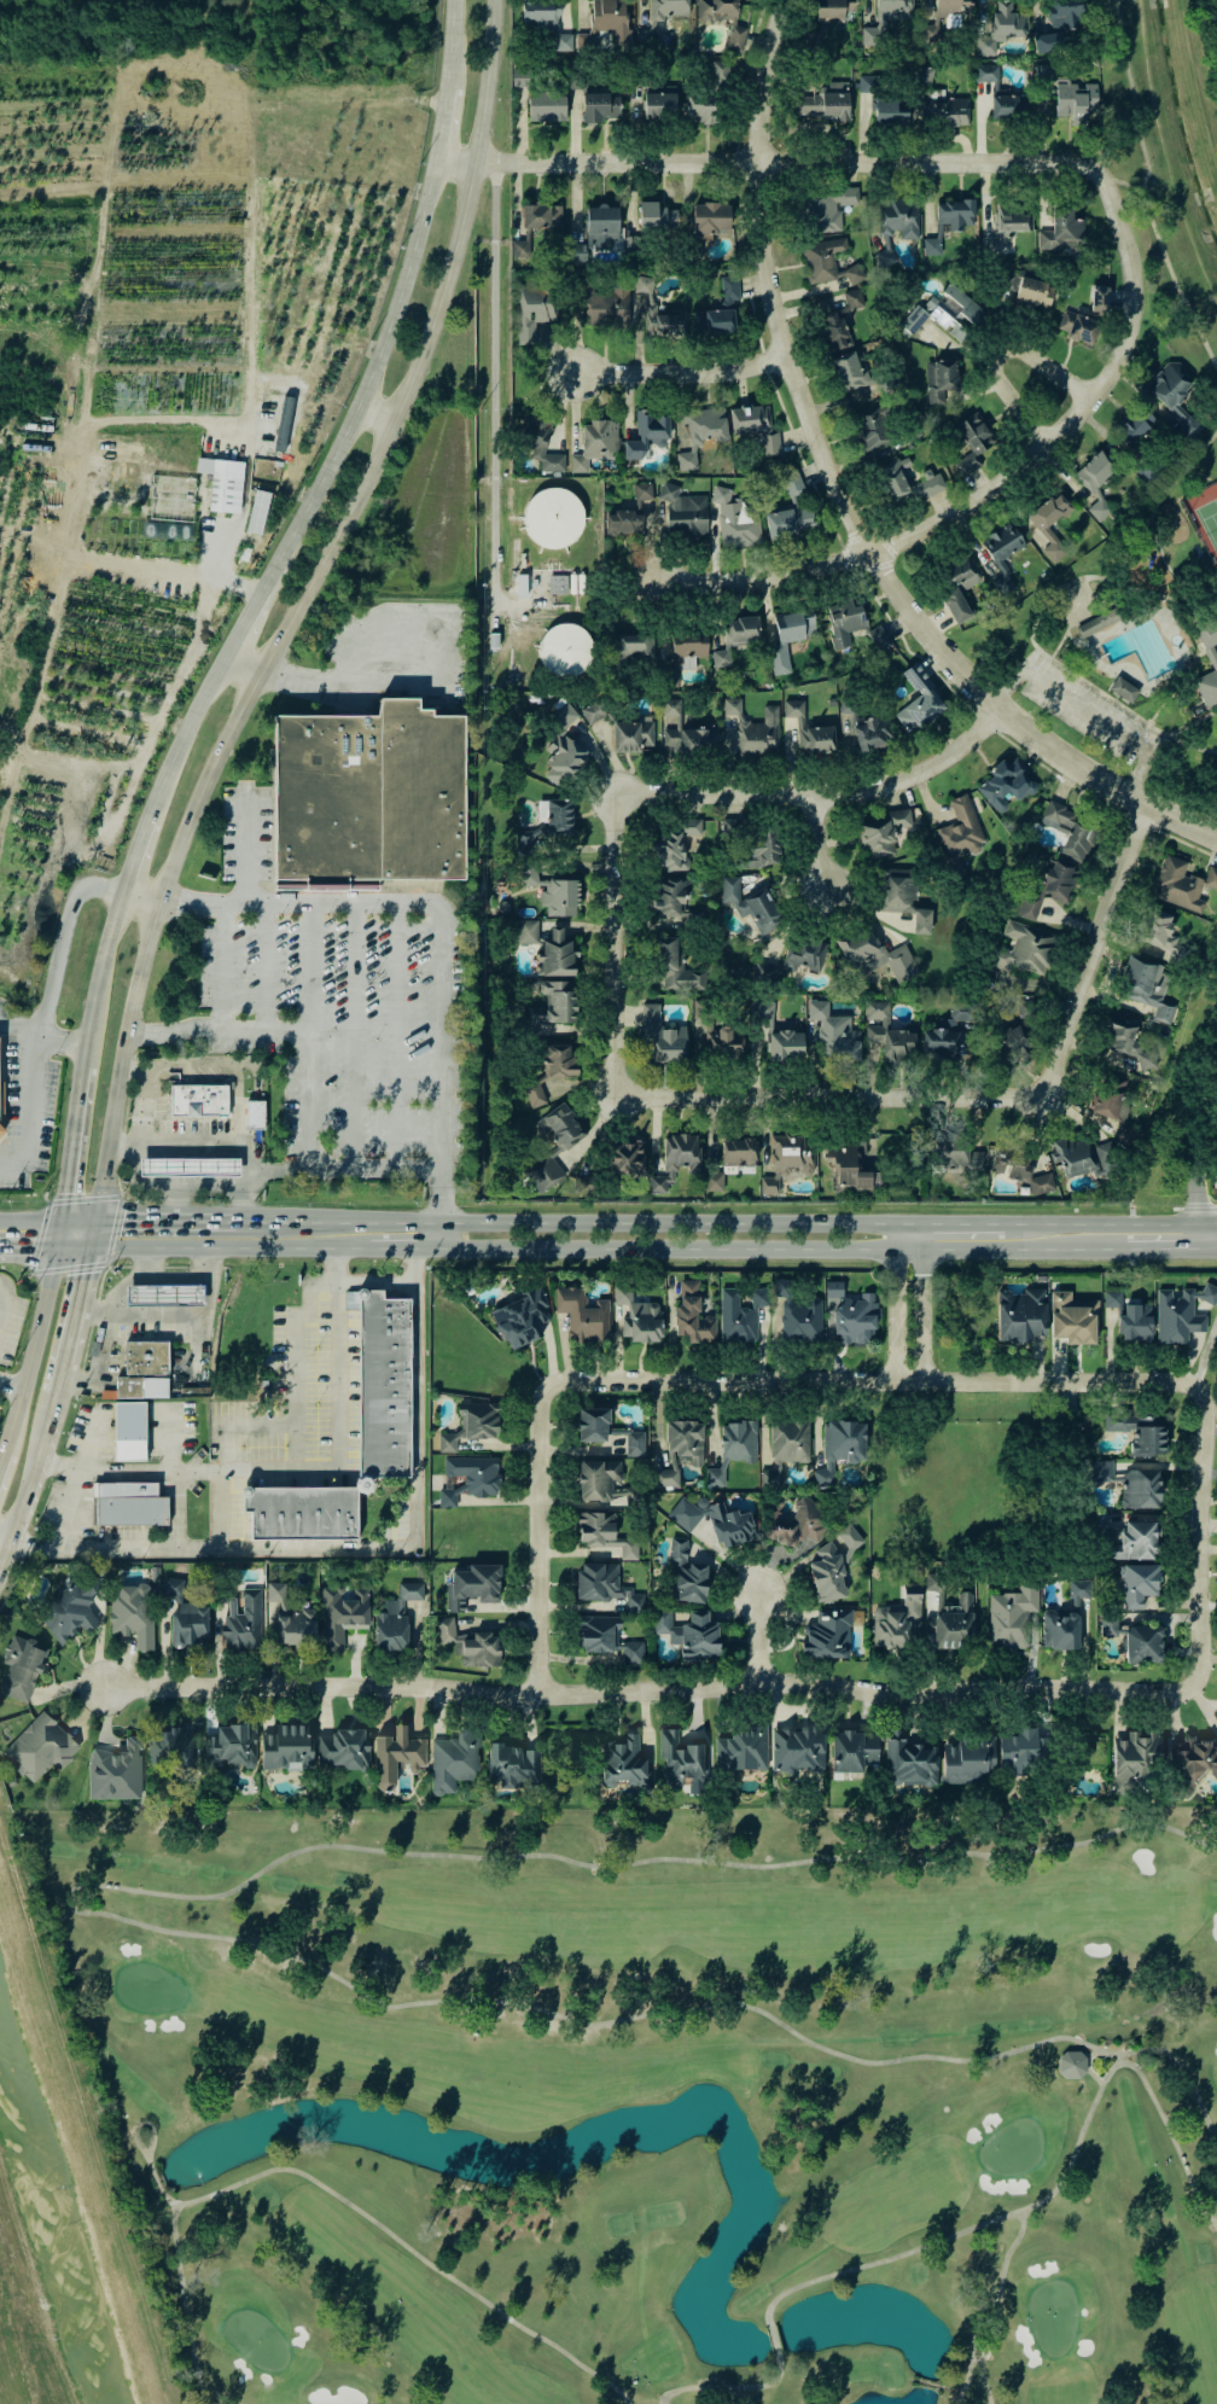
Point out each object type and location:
building: (716, 10)
building: (829, 11)
building: (1066, 12)
building: (660, 18)
building: (884, 18)
building: (936, 19)
building: (545, 22)
building: (605, 23)
building: (1001, 27)
building: (736, 37)
road: (1207, 40)
building: (1047, 42)
road: (447, 45)
building: (720, 72)
building: (985, 72)
building: (867, 83)
building: (1075, 100)
building: (825, 101)
building: (599, 105)
building: (658, 105)
building: (1008, 105)
building: (545, 106)
building: (700, 107)
building: (943, 107)
building: (890, 110)
road: (436, 124)
park: (1165, 159)
road: (448, 161)
road: (775, 161)
road: (1118, 181)
road: (1140, 194)
building: (829, 206)
building: (540, 215)
building: (656, 216)
building: (899, 216)
building: (710, 217)
building: (1008, 219)
building: (948, 222)
building: (600, 225)
building: (1061, 231)
building: (520, 245)
building: (885, 257)
building: (827, 261)
building: (642, 284)
building: (1030, 292)
building: (1099, 297)
building: (606, 305)
building: (531, 309)
building: (720, 309)
building: (953, 309)
building: (913, 319)
building: (665, 324)
building: (1077, 326)
road: (996, 359)
road: (677, 371)
building: (848, 371)
road: (363, 378)
building: (938, 379)
road: (491, 391)
building: (1175, 396)
building: (284, 425)
building: (755, 425)
building: (1134, 426)
building: (873, 427)
building: (700, 432)
building: (646, 433)
building: (971, 441)
building: (594, 443)
building: (543, 453)
road: (1181, 471)
road: (1198, 472)
road: (1003, 479)
building: (221, 481)
building: (908, 482)
building: (1095, 482)
building: (641, 490)
road: (848, 494)
road: (240, 503)
building: (790, 510)
building: (257, 511)
building: (683, 511)
building: (552, 517)
building: (735, 518)
park: (1204, 518)
building: (623, 522)
park: (1207, 523)
building: (1041, 526)
road: (1122, 543)
building: (1002, 554)
road: (1169, 569)
road: (1140, 571)
building: (557, 583)
building: (956, 584)
road: (1107, 594)
park: (1075, 601)
road: (290, 609)
road: (1035, 611)
road: (243, 615)
road: (1129, 618)
building: (844, 619)
building: (1099, 621)
building: (741, 629)
road: (1169, 630)
building: (788, 635)
building: (878, 636)
road: (1056, 641)
park: (1126, 641)
building: (634, 645)
building: (564, 648)
building: (721, 657)
building: (1213, 657)
road: (240, 659)
road: (1030, 663)
road: (1135, 675)
road: (354, 683)
building: (1123, 689)
road: (1114, 694)
road: (1164, 697)
building: (918, 700)
parking lot: (1081, 709)
building: (593, 711)
building: (563, 715)
road: (1085, 717)
road: (1189, 721)
building: (752, 729)
road: (181, 730)
building: (685, 730)
building: (809, 730)
building: (872, 732)
building: (633, 734)
road: (1180, 744)
building: (563, 759)
building: (1003, 785)
road: (687, 793)
building: (367, 799)
building: (547, 821)
building: (1070, 830)
building: (959, 831)
building: (881, 832)
road: (821, 840)
building: (671, 844)
road: (241, 849)
road: (133, 854)
building: (1181, 884)
building: (1046, 887)
building: (553, 892)
building: (903, 896)
building: (669, 897)
road: (138, 898)
building: (750, 903)
road: (437, 930)
road: (221, 931)
building: (526, 931)
building: (1163, 936)
road: (62, 941)
building: (1025, 948)
building: (555, 953)
building: (805, 954)
building: (874, 955)
road: (264, 965)
building: (675, 968)
road: (310, 970)
road: (95, 977)
building: (1146, 986)
parking lot: (332, 1000)
building: (554, 1002)
road: (12, 1021)
building: (947, 1031)
building: (711, 1032)
building: (887, 1032)
building: (833, 1034)
road: (53, 1036)
building: (662, 1036)
road: (356, 1037)
road: (398, 1037)
building: (1011, 1040)
building: (785, 1044)
building: (557, 1061)
road: (1, 1087)
road: (988, 1094)
building: (534, 1095)
building: (1107, 1098)
building: (197, 1100)
parking lot: (25, 1104)
road: (127, 1107)
road: (299, 1107)
road: (30, 1113)
building: (255, 1113)
road: (140, 1117)
road: (190, 1117)
road: (27, 1120)
building: (558, 1125)
building: (1122, 1131)
road: (69, 1142)
road: (187, 1143)
road: (121, 1148)
building: (738, 1151)
building: (953, 1154)
building: (627, 1157)
building: (1088, 1157)
building: (676, 1159)
building: (786, 1160)
gas station: (194, 1164)
building: (188, 1166)
road: (274, 1168)
building: (1019, 1169)
road: (1211, 1171)
building: (543, 1175)
road: (117, 1181)
building: (712, 1181)
traffic signals: (62, 1193)
road: (249, 1194)
road: (28, 1220)
road: (77, 1220)
traffic signals: (123, 1220)
road: (177, 1220)
road: (576, 1222)
road: (910, 1222)
road: (963, 1222)
road: (1110, 1222)
road: (54, 1232)
road: (97, 1233)
road: (438, 1234)
road: (25, 1245)
traffic signals: (30, 1245)
road: (74, 1245)
road: (233, 1247)
road: (406, 1247)
road: (781, 1247)
road: (1167, 1250)
road: (1215, 1250)
road: (99, 1263)
traffic signals: (88, 1273)
road: (118, 1288)
building: (163, 1294)
gas station: (163, 1294)
building: (1111, 1298)
road: (0, 1299)
road: (897, 1302)
road: (922, 1302)
road: (80, 1304)
road: (190, 1312)
building: (740, 1312)
building: (797, 1312)
building: (1181, 1312)
building: (1020, 1314)
building: (582, 1315)
building: (692, 1315)
building: (849, 1315)
building: (637, 1316)
building: (522, 1317)
building: (1072, 1317)
building: (1135, 1322)
road: (28, 1346)
building: (146, 1357)
road: (100, 1362)
road: (60, 1378)
road: (875, 1381)
building: (382, 1385)
road: (8, 1386)
building: (128, 1386)
parking lot: (1065, 1395)
building: (472, 1425)
building: (592, 1425)
building: (129, 1430)
building: (1139, 1431)
building: (790, 1439)
building: (635, 1444)
building: (733, 1448)
building: (839, 1448)
building: (680, 1450)
road: (1, 1453)
road: (295, 1467)
road: (33, 1469)
park: (971, 1474)
building: (770, 1477)
building: (470, 1478)
building: (1130, 1484)
road: (65, 1507)
building: (127, 1507)
road: (175, 1509)
road: (219, 1509)
building: (301, 1512)
building: (715, 1520)
building: (796, 1523)
building: (604, 1533)
road: (538, 1539)
road: (1199, 1539)
road: (4, 1542)
building: (1135, 1542)
road: (360, 1549)
road: (4, 1553)
building: (832, 1562)
building: (686, 1573)
building: (605, 1584)
building: (1137, 1584)
building: (473, 1585)
building: (275, 1591)
building: (71, 1611)
building: (133, 1614)
building: (342, 1614)
building: (1012, 1616)
building: (395, 1618)
building: (897, 1620)
building: (243, 1622)
building: (190, 1624)
building: (293, 1626)
building: (1059, 1629)
building: (689, 1634)
building: (827, 1635)
road: (757, 1637)
building: (607, 1638)
building: (1142, 1643)
building: (470, 1645)
building: (21, 1667)
road: (647, 1690)
building: (229, 1746)
building: (40, 1747)
building: (174, 1747)
building: (286, 1747)
building: (344, 1750)
building: (741, 1750)
building: (797, 1750)
building: (852, 1751)
building: (1020, 1752)
building: (396, 1754)
building: (682, 1759)
building: (1134, 1759)
building: (453, 1760)
building: (967, 1760)
building: (623, 1762)
building: (908, 1762)
building: (1193, 1763)
building: (511, 1765)
building: (116, 1771)
building: (1072, 2064)
park: (654, 2097)
park: (653, 2099)

